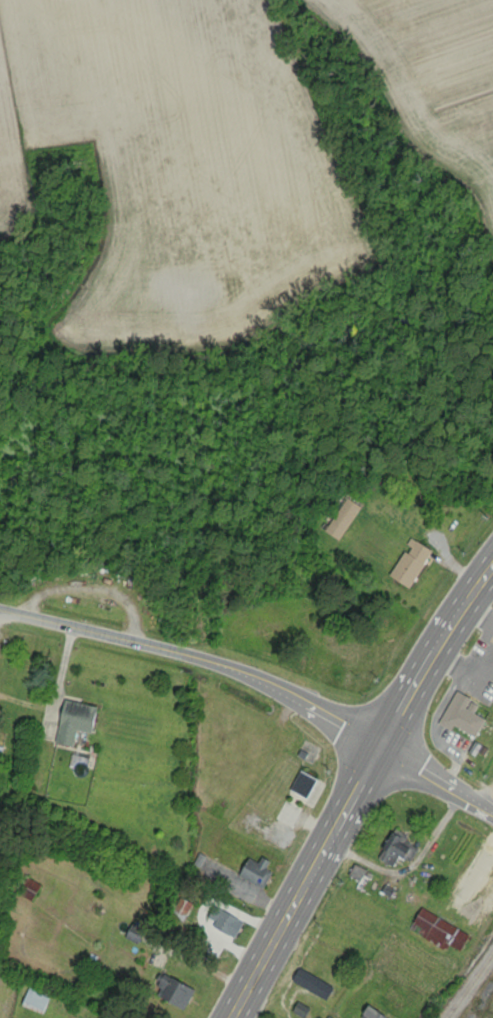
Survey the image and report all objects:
building: (340, 519)
building: (409, 562)
road: (475, 614)
road: (1, 616)
road: (194, 656)
road: (461, 669)
building: (472, 676)
building: (461, 716)
building: (70, 720)
road: (435, 733)
building: (0, 748)
road: (351, 781)
building: (300, 784)
road: (430, 787)
road: (487, 806)
building: (395, 850)
building: (253, 872)
building: (27, 889)
building: (221, 923)
building: (435, 931)
building: (309, 982)
railway: (470, 986)
building: (171, 993)
building: (34, 999)
building: (299, 1010)
building: (368, 1013)

